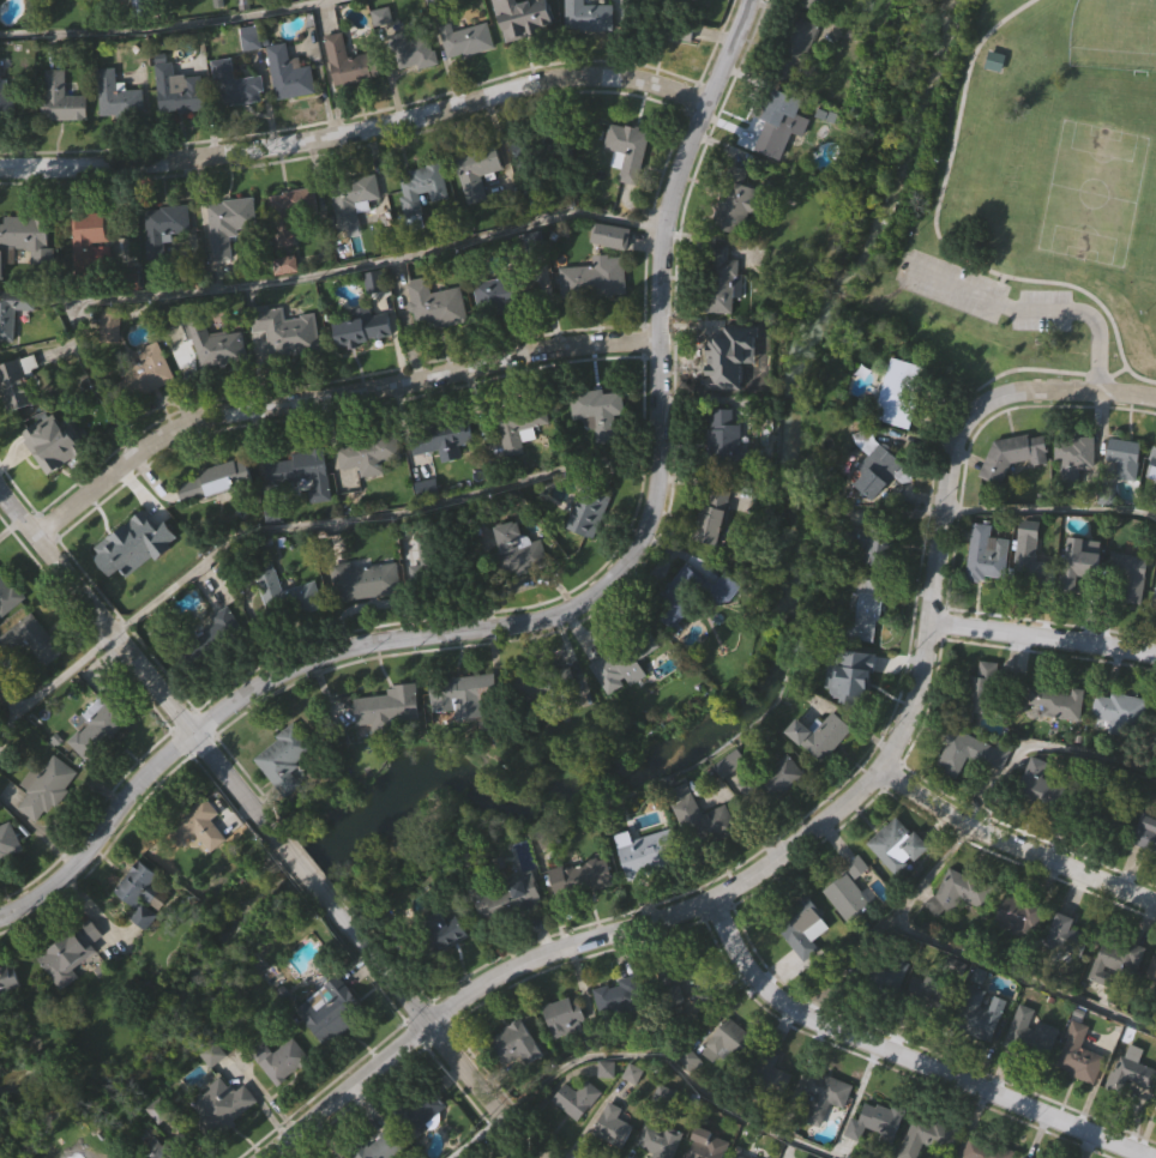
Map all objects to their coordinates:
building: (811, 2)
building: (574, 7)
building: (609, 16)
building: (526, 19)
road: (163, 26)
park: (1114, 35)
building: (464, 37)
building: (690, 37)
building: (795, 47)
building: (414, 52)
building: (994, 60)
building: (349, 61)
building: (293, 80)
building: (241, 88)
building: (177, 89)
building: (116, 95)
building: (61, 97)
building: (6, 102)
building: (777, 119)
road: (355, 126)
building: (522, 146)
building: (627, 147)
building: (476, 168)
building: (421, 186)
park: (1028, 195)
building: (351, 198)
building: (735, 201)
building: (294, 212)
building: (228, 219)
building: (90, 222)
building: (163, 227)
building: (606, 236)
building: (35, 242)
road: (939, 243)
building: (1, 257)
road: (285, 270)
building: (594, 277)
building: (721, 278)
parking lot: (952, 288)
building: (435, 304)
building: (12, 309)
road: (1029, 312)
parking lot: (1042, 312)
building: (110, 321)
building: (362, 328)
building: (285, 330)
building: (213, 342)
building: (720, 360)
building: (152, 366)
road: (1133, 378)
road: (1151, 382)
building: (14, 384)
building: (901, 392)
road: (329, 393)
building: (597, 411)
road: (963, 423)
building: (517, 430)
building: (723, 435)
building: (441, 438)
building: (46, 450)
building: (1012, 452)
building: (367, 453)
building: (1073, 458)
building: (1121, 458)
building: (874, 464)
building: (1151, 465)
building: (299, 469)
building: (213, 480)
building: (590, 499)
building: (712, 509)
road: (1049, 512)
road: (371, 514)
road: (649, 515)
building: (126, 542)
building: (872, 542)
building: (519, 549)
building: (983, 554)
building: (1032, 557)
building: (1078, 557)
building: (453, 567)
building: (1125, 578)
building: (367, 580)
building: (685, 580)
building: (728, 585)
building: (283, 593)
building: (7, 595)
building: (1154, 598)
building: (863, 609)
road: (1041, 633)
building: (212, 634)
building: (30, 639)
building: (622, 659)
road: (138, 664)
building: (848, 676)
building: (542, 678)
road: (56, 681)
building: (979, 686)
building: (464, 693)
building: (1055, 701)
building: (387, 705)
building: (1116, 712)
building: (98, 723)
building: (1155, 726)
building: (819, 734)
road: (1046, 748)
building: (968, 752)
building: (283, 758)
building: (1040, 782)
building: (772, 783)
building: (44, 788)
building: (1103, 808)
building: (195, 825)
road: (100, 826)
building: (711, 827)
building: (1144, 837)
building: (8, 840)
road: (1011, 842)
building: (897, 845)
building: (650, 854)
road: (309, 875)
building: (580, 876)
road: (916, 887)
building: (138, 892)
building: (956, 892)
building: (507, 895)
building: (844, 895)
building: (1014, 913)
road: (632, 927)
building: (801, 929)
building: (438, 934)
building: (1064, 940)
building: (70, 952)
building: (1114, 958)
building: (1151, 972)
building: (8, 978)
road: (1020, 978)
building: (875, 983)
building: (682, 993)
building: (619, 996)
building: (979, 1012)
building: (566, 1013)
building: (329, 1014)
building: (1030, 1033)
road: (439, 1041)
building: (728, 1041)
building: (514, 1043)
building: (1078, 1055)
road: (908, 1056)
building: (278, 1059)
road: (639, 1059)
building: (632, 1073)
building: (766, 1074)
building: (1130, 1079)
building: (814, 1098)
building: (576, 1099)
road: (469, 1105)
building: (420, 1109)
building: (873, 1121)
building: (612, 1126)
building: (927, 1138)
building: (656, 1141)
building: (705, 1145)
building: (380, 1146)
building: (983, 1150)
building: (163, 1152)
building: (470, 1156)
building: (737, 1156)
building: (1024, 1157)

